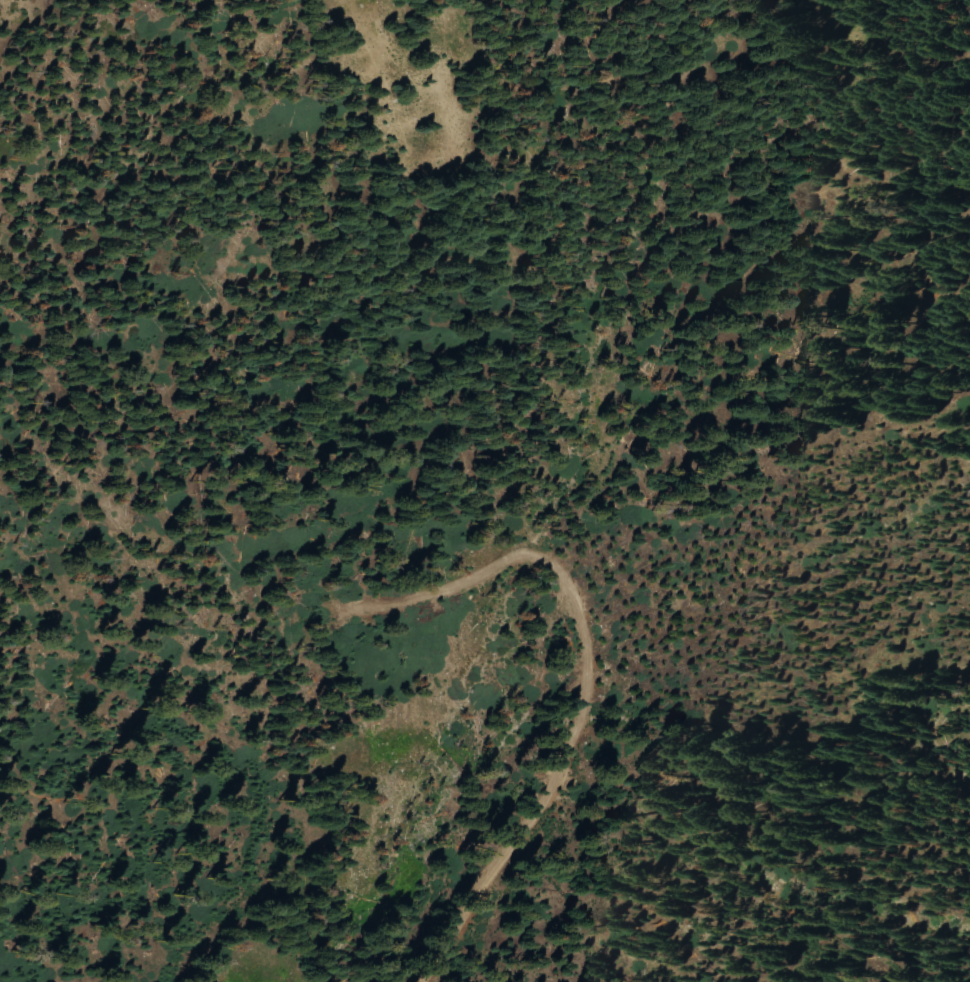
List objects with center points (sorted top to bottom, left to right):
road: (588, 669)

